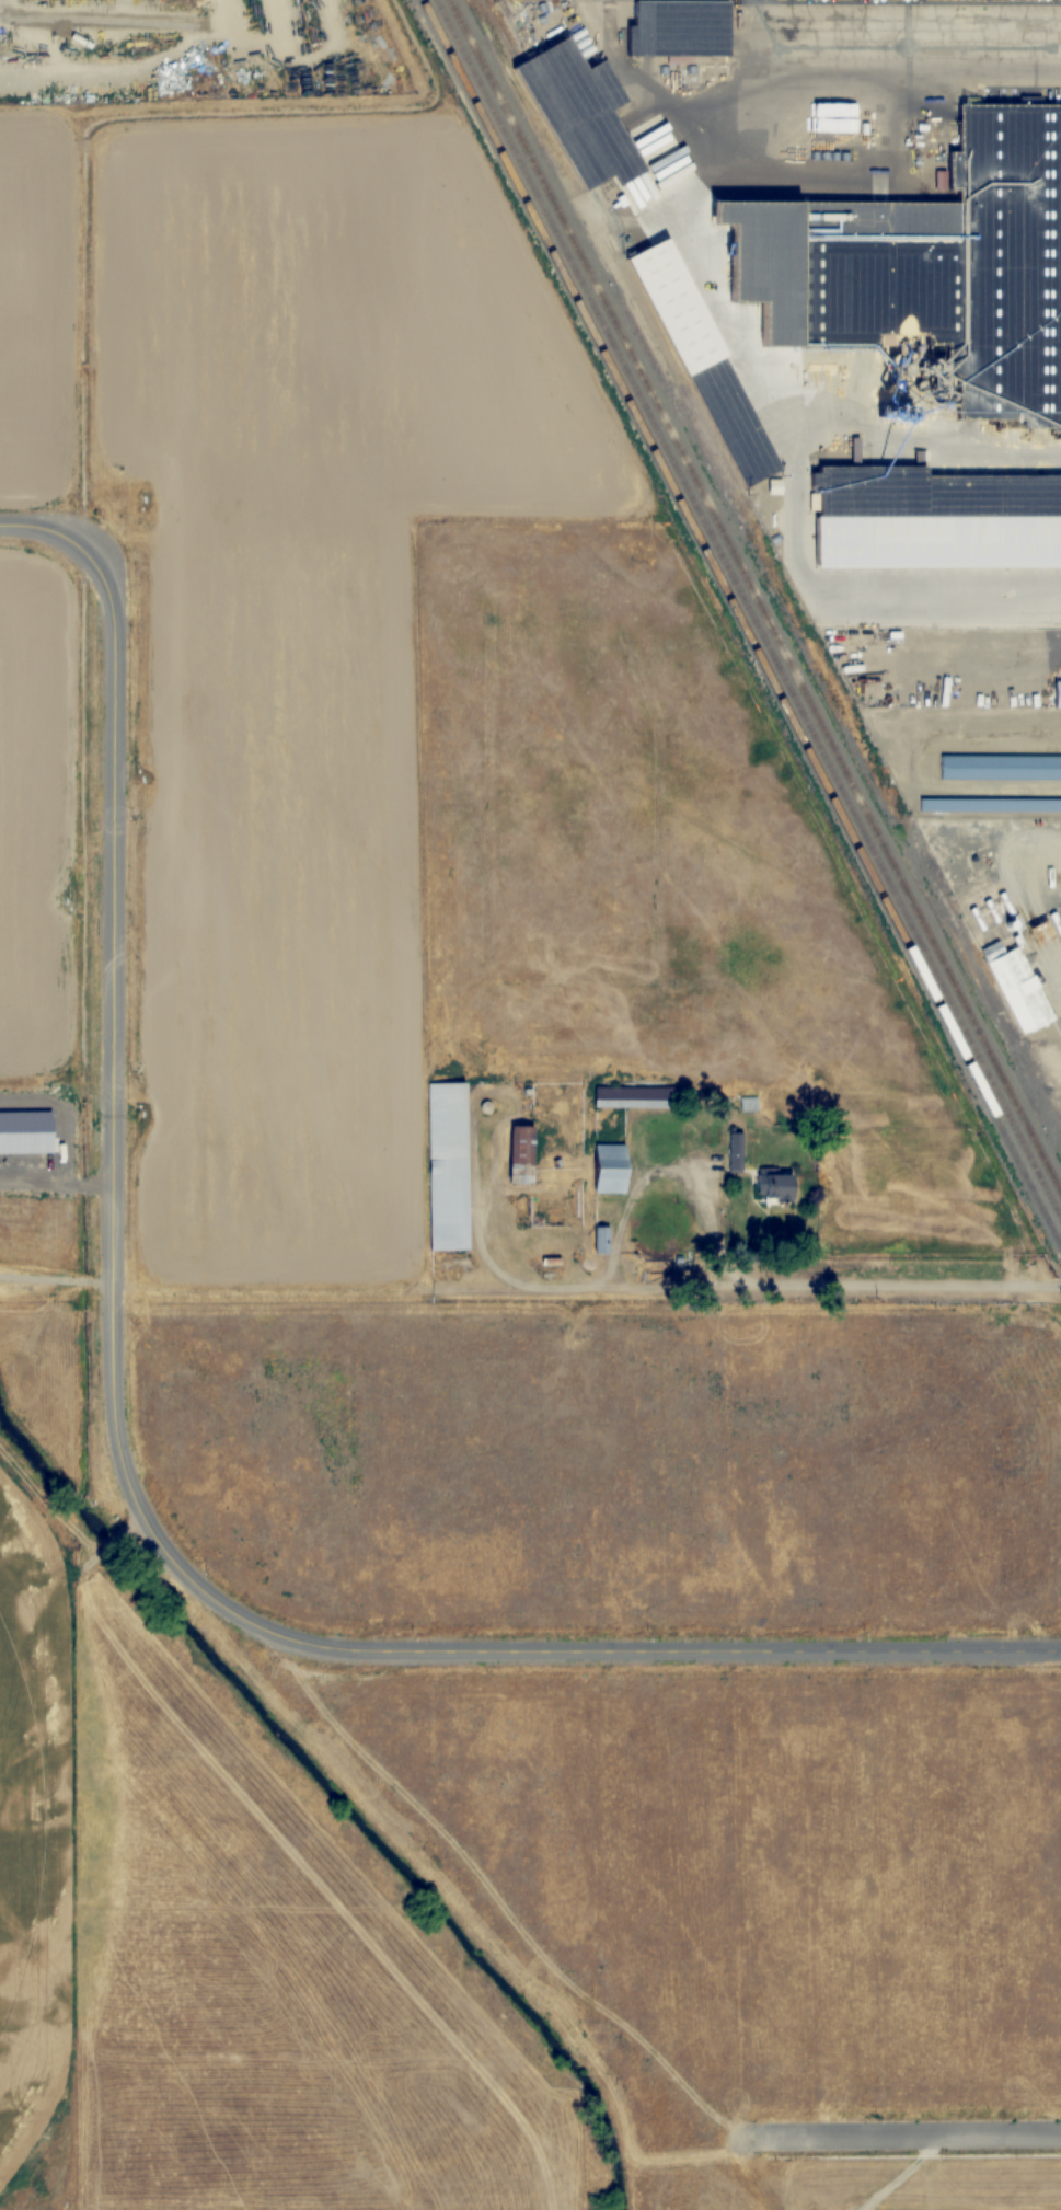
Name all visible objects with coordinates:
building: (690, 27)
railway: (497, 31)
building: (585, 106)
building: (881, 291)
building: (742, 418)
building: (934, 511)
road: (44, 527)
railway: (754, 597)
railway: (747, 610)
railway: (740, 623)
building: (1001, 764)
building: (990, 804)
building: (1022, 991)
road: (113, 1085)
building: (635, 1097)
building: (523, 1154)
building: (450, 1166)
building: (613, 1169)
building: (782, 1188)
building: (602, 1240)
road: (830, 1281)
crop: (427, 1339)
road: (634, 1650)

